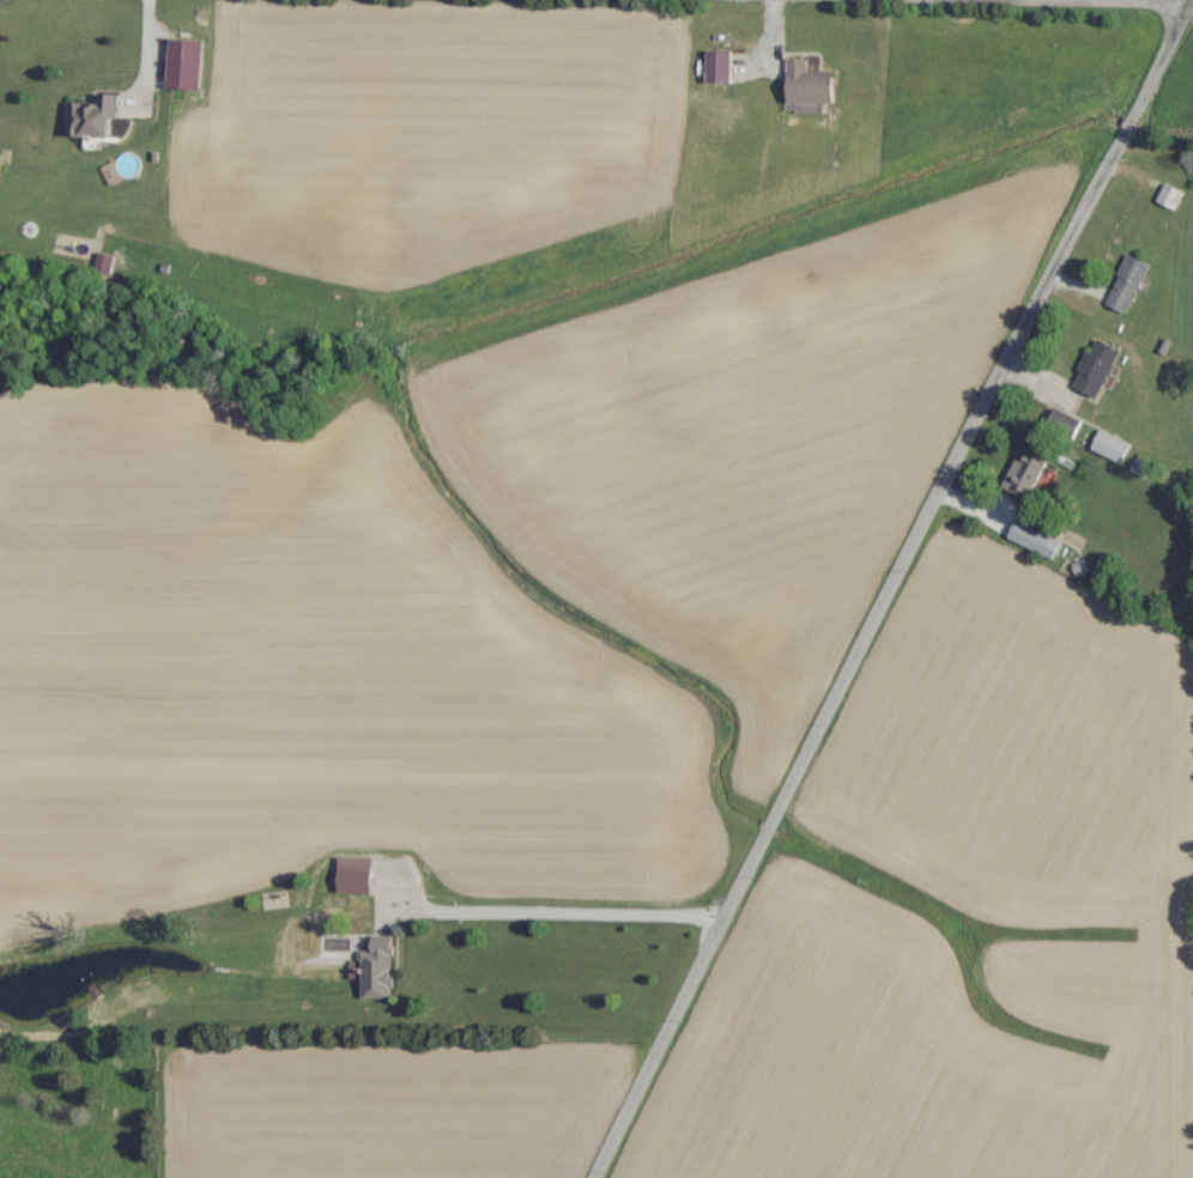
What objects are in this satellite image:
road: (1049, 7)
road: (1192, 13)
building: (184, 65)
building: (719, 68)
road: (137, 74)
building: (810, 85)
building: (93, 119)
building: (102, 263)
building: (1127, 285)
building: (1097, 369)
building: (1110, 448)
building: (1025, 476)
building: (1034, 541)
road: (886, 589)
building: (353, 876)
road: (551, 909)
building: (353, 971)

